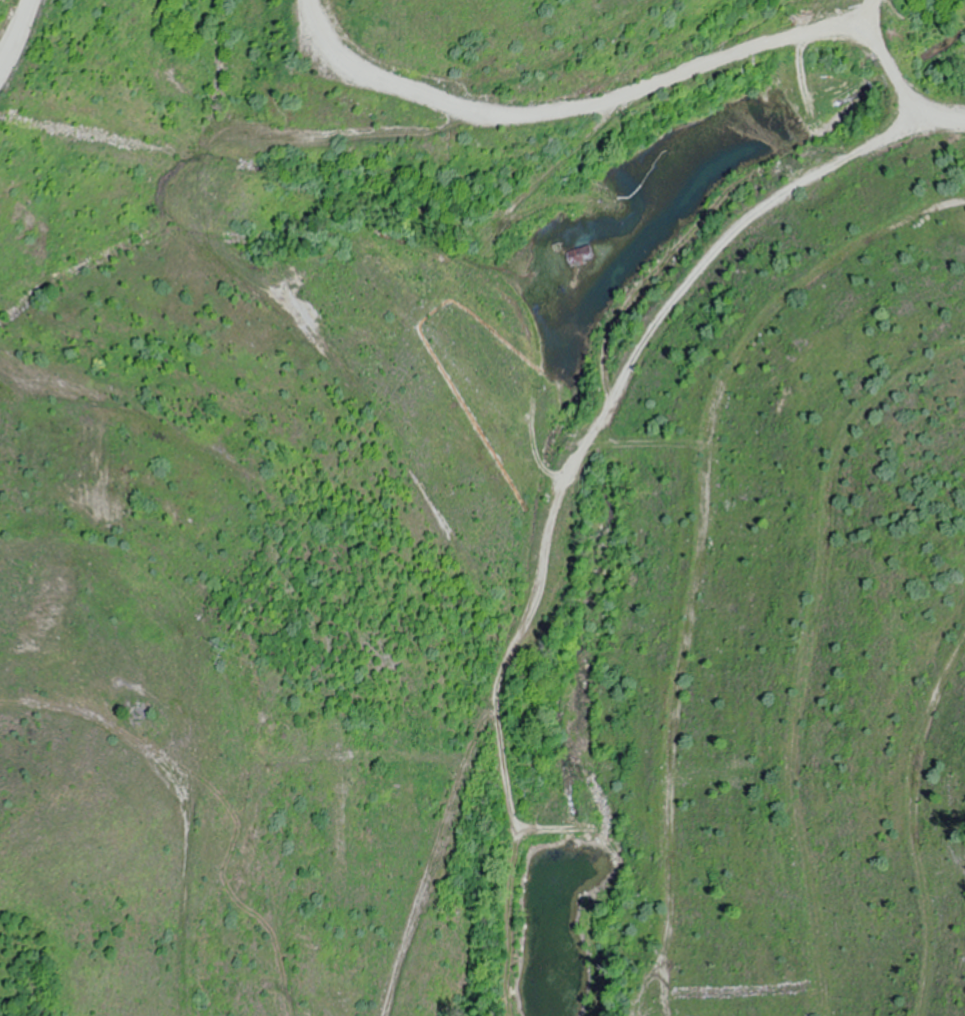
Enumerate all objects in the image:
building: (581, 256)
quarry: (486, 714)

